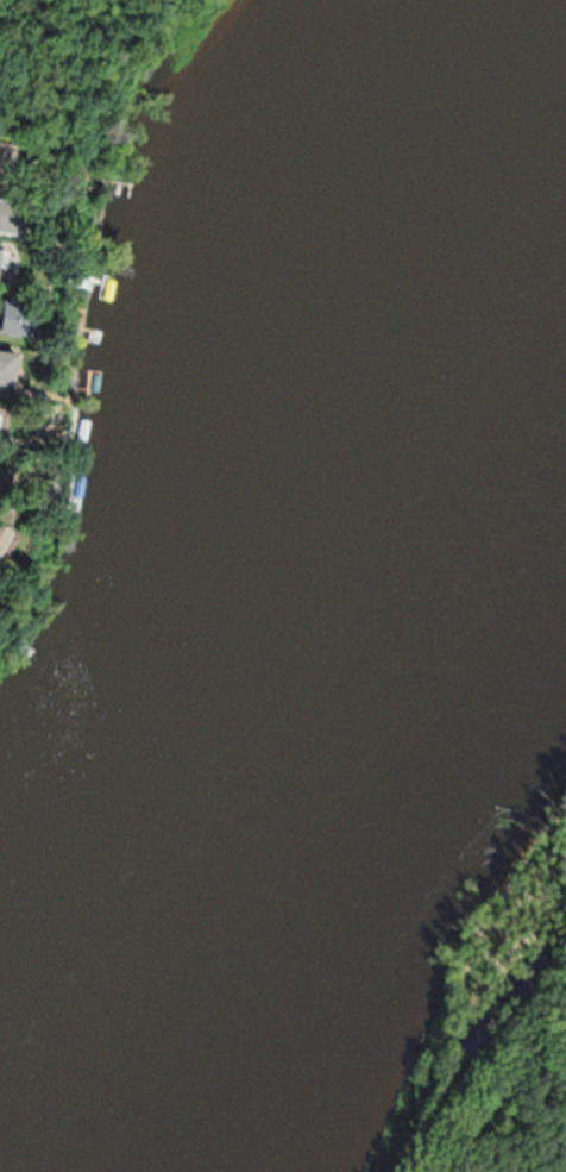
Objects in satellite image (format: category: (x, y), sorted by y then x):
building: (5, 165)
building: (6, 218)
building: (17, 324)
building: (6, 374)
river: (245, 464)

